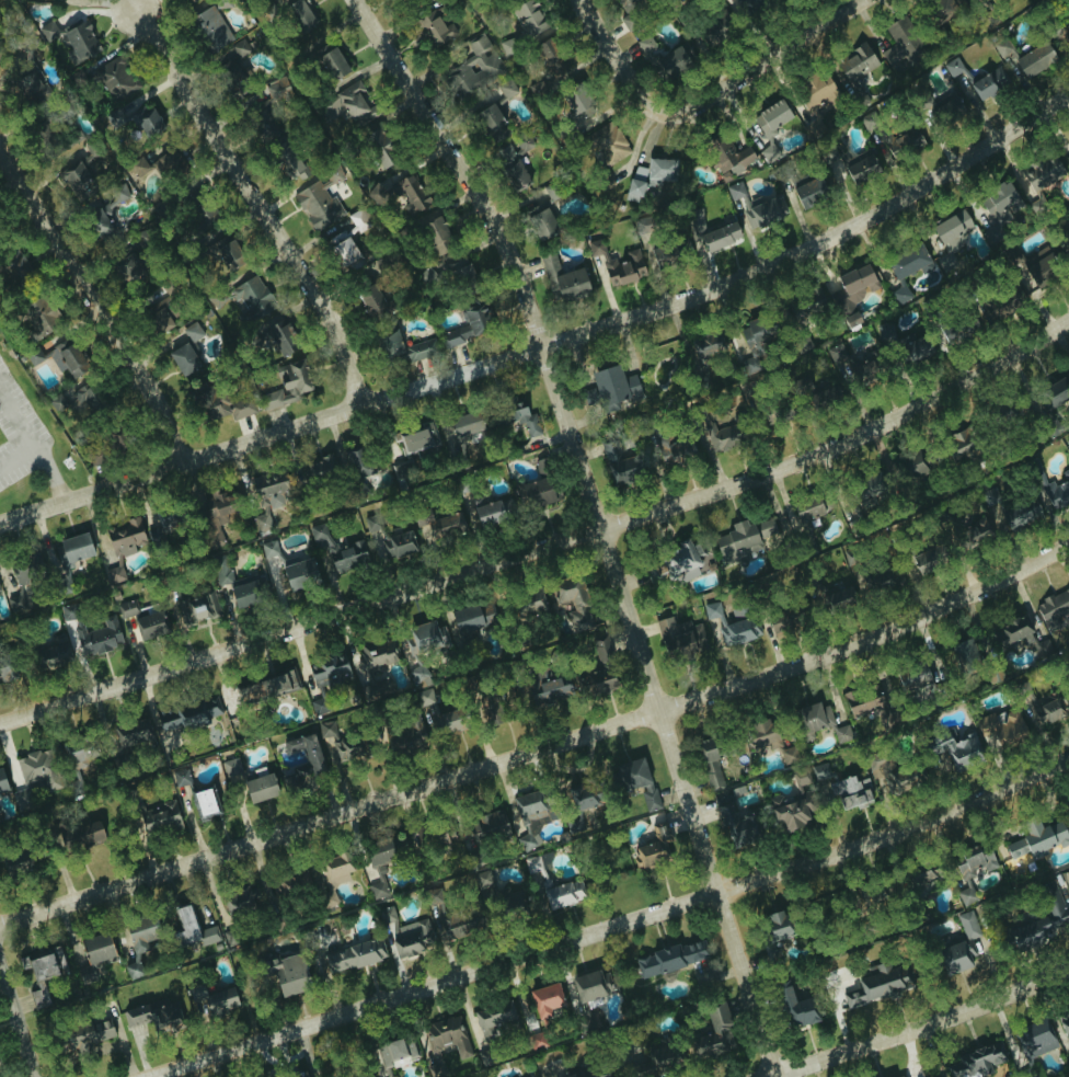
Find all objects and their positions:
building: (184, 1)
building: (625, 1)
building: (977, 1)
building: (66, 3)
building: (748, 3)
building: (940, 4)
building: (301, 14)
building: (528, 16)
building: (714, 28)
building: (211, 30)
building: (433, 30)
building: (1066, 31)
building: (901, 32)
building: (73, 39)
building: (645, 44)
building: (509, 47)
building: (1004, 48)
road: (613, 53)
building: (550, 58)
building: (1034, 60)
building: (234, 62)
building: (857, 62)
building: (669, 64)
building: (331, 65)
road: (756, 65)
building: (474, 66)
building: (953, 67)
building: (114, 80)
building: (988, 82)
building: (26, 83)
building: (505, 89)
building: (536, 89)
building: (818, 91)
building: (350, 102)
building: (942, 106)
building: (574, 107)
building: (147, 123)
building: (490, 123)
building: (263, 128)
building: (768, 128)
building: (607, 145)
building: (903, 145)
building: (1066, 147)
building: (380, 148)
building: (504, 151)
building: (828, 153)
building: (729, 158)
building: (284, 159)
building: (165, 162)
building: (139, 167)
building: (859, 170)
building: (518, 173)
building: (1038, 174)
building: (648, 176)
building: (76, 182)
building: (735, 191)
building: (809, 192)
building: (400, 195)
building: (319, 200)
road: (257, 202)
building: (765, 210)
building: (999, 210)
building: (104, 213)
building: (541, 225)
building: (643, 225)
building: (709, 232)
building: (436, 234)
building: (950, 238)
building: (226, 253)
building: (347, 253)
building: (670, 253)
building: (13, 263)
building: (909, 263)
building: (614, 265)
building: (1039, 267)
building: (126, 268)
building: (462, 275)
building: (562, 279)
building: (854, 285)
building: (369, 300)
building: (252, 301)
road: (96, 302)
building: (991, 306)
building: (803, 308)
building: (158, 319)
building: (35, 321)
building: (470, 324)
building: (957, 331)
building: (193, 332)
building: (889, 337)
building: (276, 341)
building: (756, 342)
building: (390, 343)
road: (550, 343)
building: (423, 350)
building: (59, 359)
building: (183, 359)
building: (842, 360)
building: (289, 386)
building: (610, 388)
building: (1054, 393)
building: (89, 398)
building: (57, 403)
building: (522, 420)
building: (465, 424)
building: (712, 431)
park: (1, 437)
building: (417, 440)
building: (961, 443)
road: (34, 444)
building: (1067, 445)
building: (100, 449)
building: (392, 449)
building: (676, 450)
road: (16, 455)
building: (618, 461)
building: (911, 462)
building: (341, 465)
building: (869, 484)
building: (271, 490)
building: (1057, 491)
building: (1011, 508)
building: (805, 509)
building: (218, 511)
building: (486, 511)
road: (599, 523)
building: (162, 525)
building: (442, 525)
building: (973, 530)
building: (318, 532)
building: (742, 539)
building: (120, 547)
building: (267, 547)
road: (543, 547)
building: (73, 548)
building: (347, 557)
building: (928, 558)
building: (679, 559)
building: (26, 569)
building: (298, 573)
building: (238, 586)
building: (836, 597)
building: (529, 601)
building: (572, 604)
building: (194, 609)
building: (1053, 609)
building: (68, 611)
building: (473, 617)
building: (141, 619)
building: (783, 619)
building: (729, 623)
building: (1014, 634)
building: (99, 637)
building: (679, 637)
building: (425, 639)
building: (964, 650)
building: (1043, 650)
building: (378, 653)
building: (51, 655)
building: (932, 665)
building: (329, 672)
building: (418, 673)
building: (911, 677)
building: (595, 683)
building: (548, 686)
building: (266, 690)
building: (867, 703)
building: (318, 707)
building: (1041, 707)
building: (482, 708)
building: (437, 712)
building: (189, 714)
building: (812, 717)
building: (1001, 729)
building: (131, 732)
building: (760, 732)
building: (841, 734)
building: (404, 736)
building: (335, 743)
road: (540, 748)
building: (304, 749)
building: (78, 754)
building: (788, 755)
building: (955, 755)
building: (711, 760)
building: (230, 767)
building: (36, 769)
building: (818, 772)
building: (888, 774)
building: (2, 782)
building: (288, 782)
building: (637, 784)
building: (258, 788)
building: (849, 791)
building: (203, 803)
building: (576, 806)
building: (793, 809)
building: (158, 815)
building: (528, 818)
building: (737, 824)
building: (481, 828)
building: (83, 835)
building: (1037, 839)
building: (442, 840)
building: (652, 848)
building: (16, 862)
building: (381, 862)
building: (972, 869)
building: (334, 874)
building: (919, 875)
building: (287, 883)
building: (563, 893)
building: (874, 895)
building: (433, 896)
building: (503, 896)
building: (241, 898)
building: (460, 920)
road: (616, 925)
building: (1039, 925)
building: (183, 926)
building: (772, 931)
building: (406, 933)
building: (206, 938)
building: (138, 942)
building: (959, 944)
building: (352, 955)
building: (94, 958)
building: (668, 959)
building: (42, 963)
building: (287, 975)
building: (877, 984)
building: (591, 985)
building: (38, 998)
building: (544, 999)
building: (211, 1001)
building: (796, 1008)
building: (154, 1015)
road: (19, 1018)
building: (491, 1020)
building: (1064, 1022)
road: (918, 1024)
building: (88, 1033)
building: (713, 1033)
building: (1034, 1036)
building: (538, 1041)
building: (445, 1042)
building: (391, 1055)
building: (977, 1062)
building: (578, 1074)
building: (294, 1075)
building: (897, 1075)

